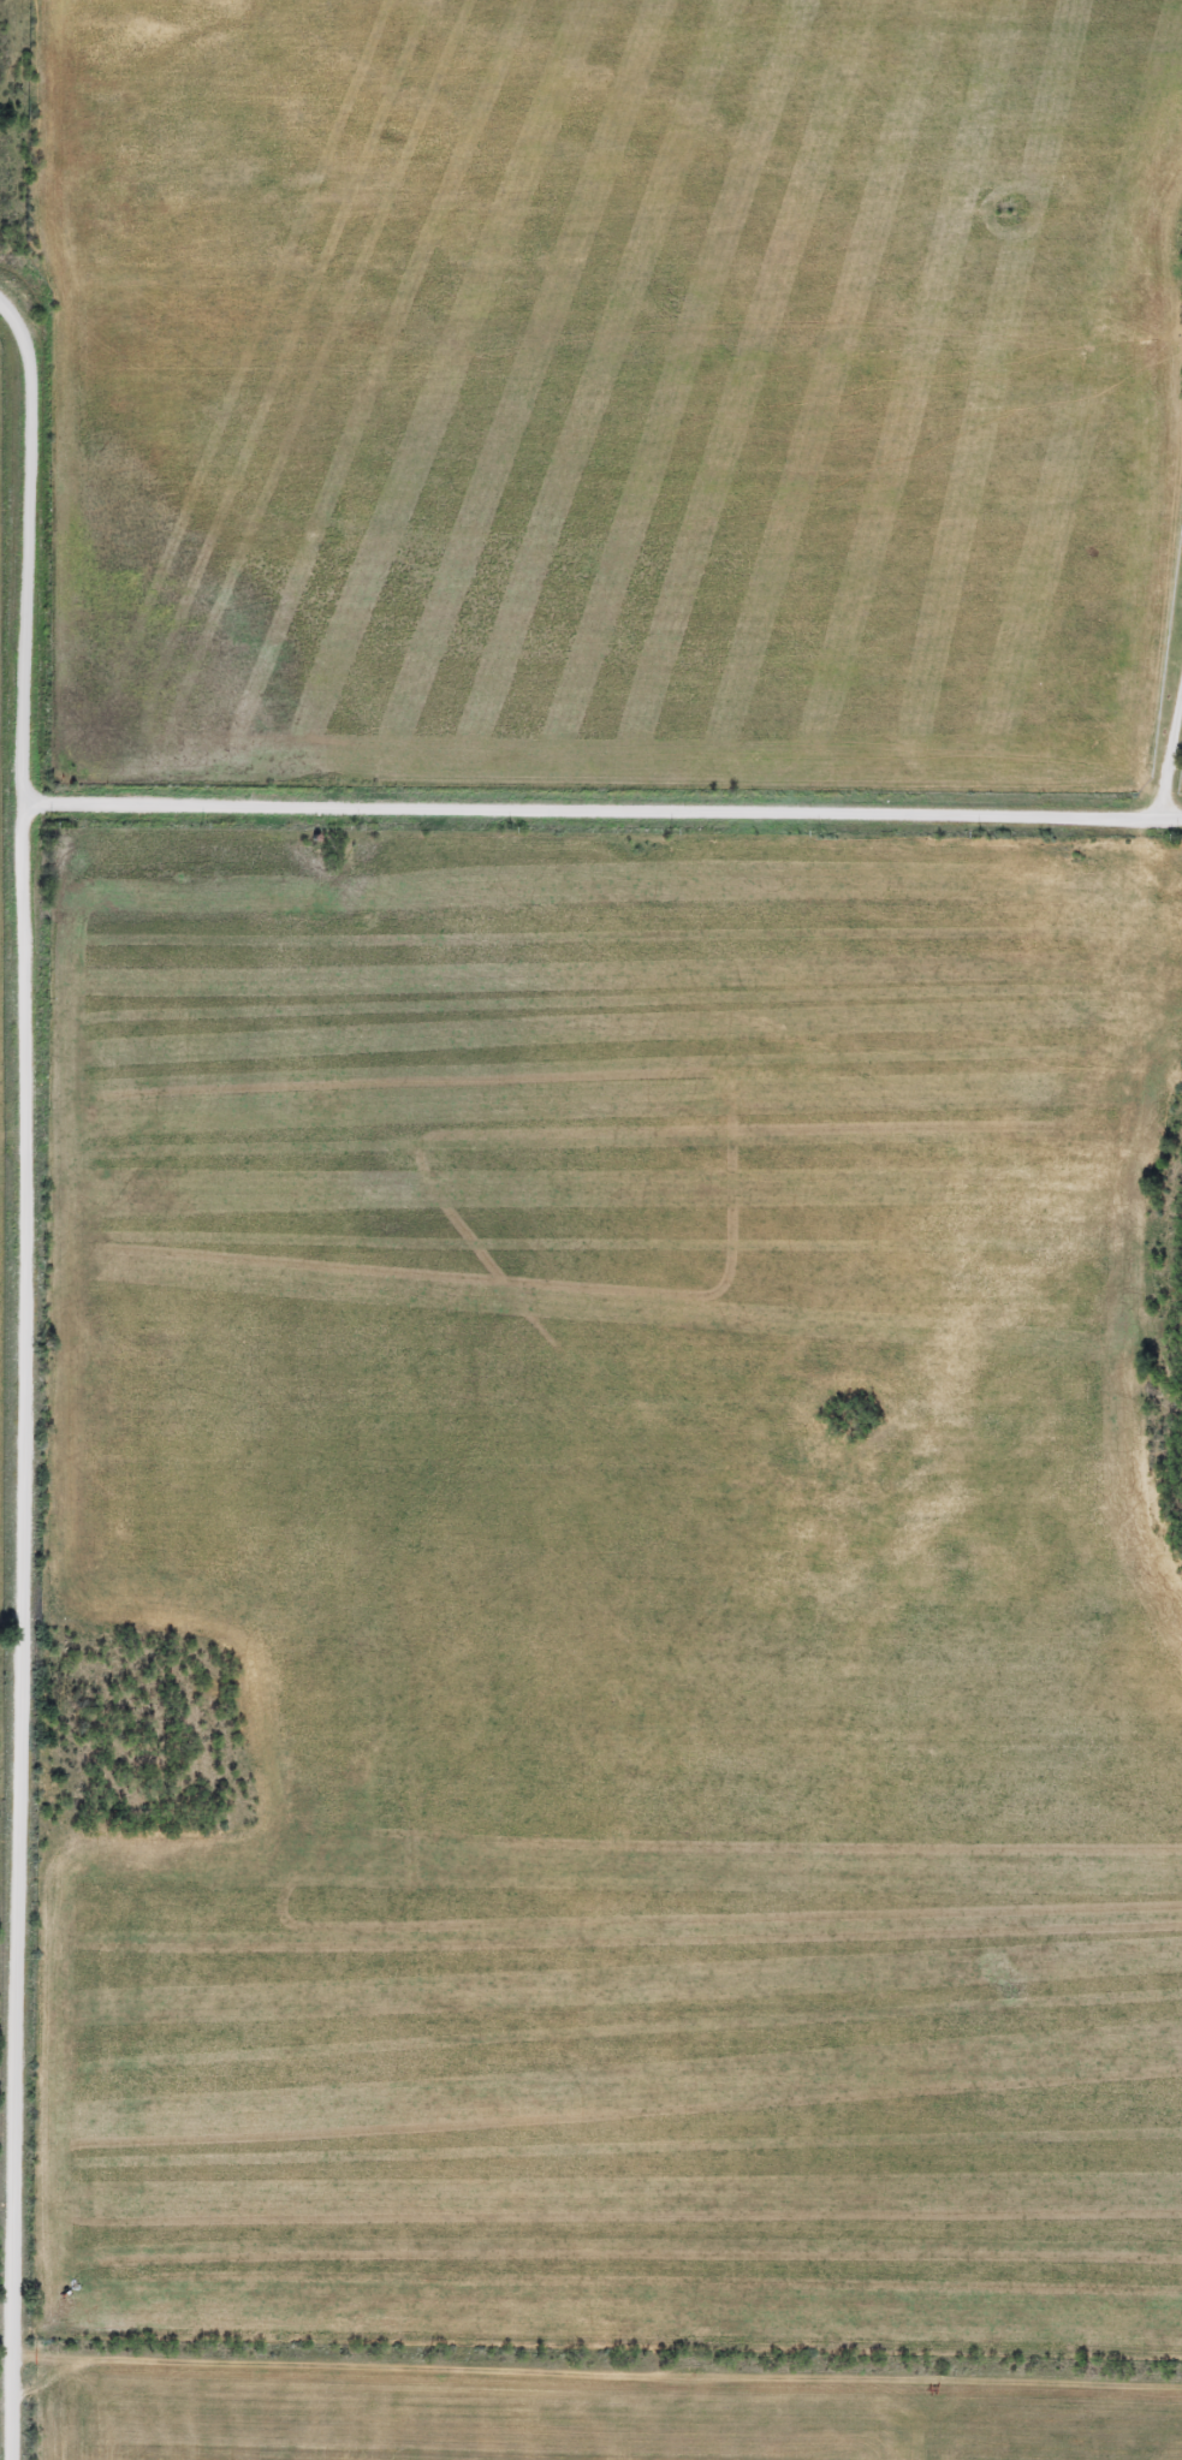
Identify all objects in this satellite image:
road: (602, 808)
road: (22, 1377)

